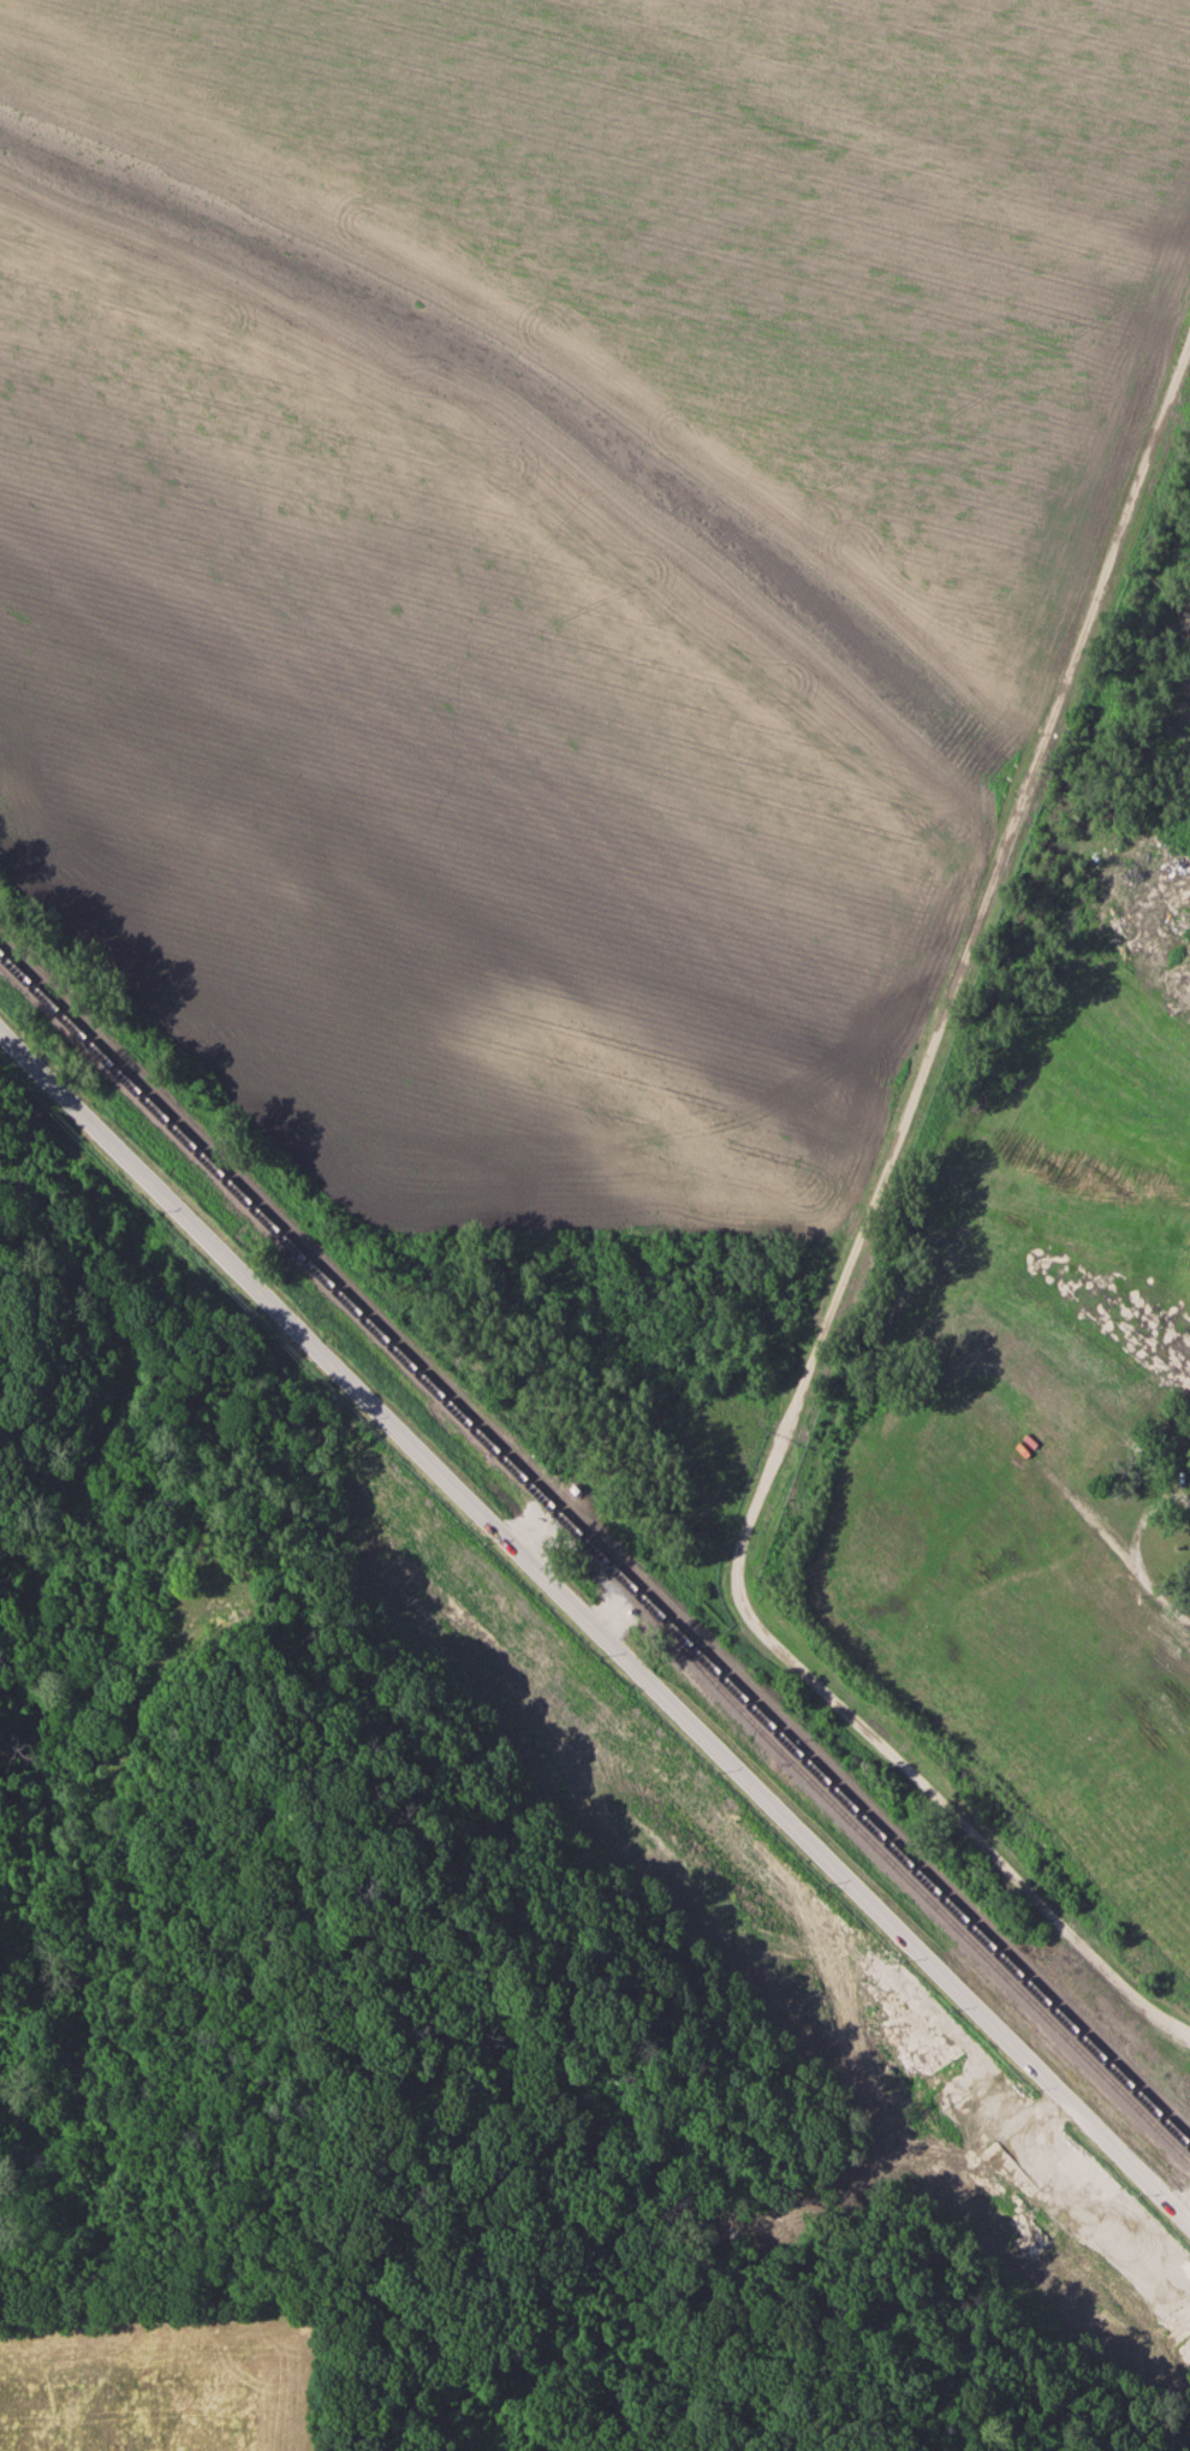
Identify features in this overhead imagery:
crop: (553, 557)
road: (847, 1264)
railway: (587, 1524)
railway: (594, 1551)
road: (595, 1624)
railway: (893, 1867)
road: (1185, 2210)
building: (1136, 2242)
crop: (151, 2379)

